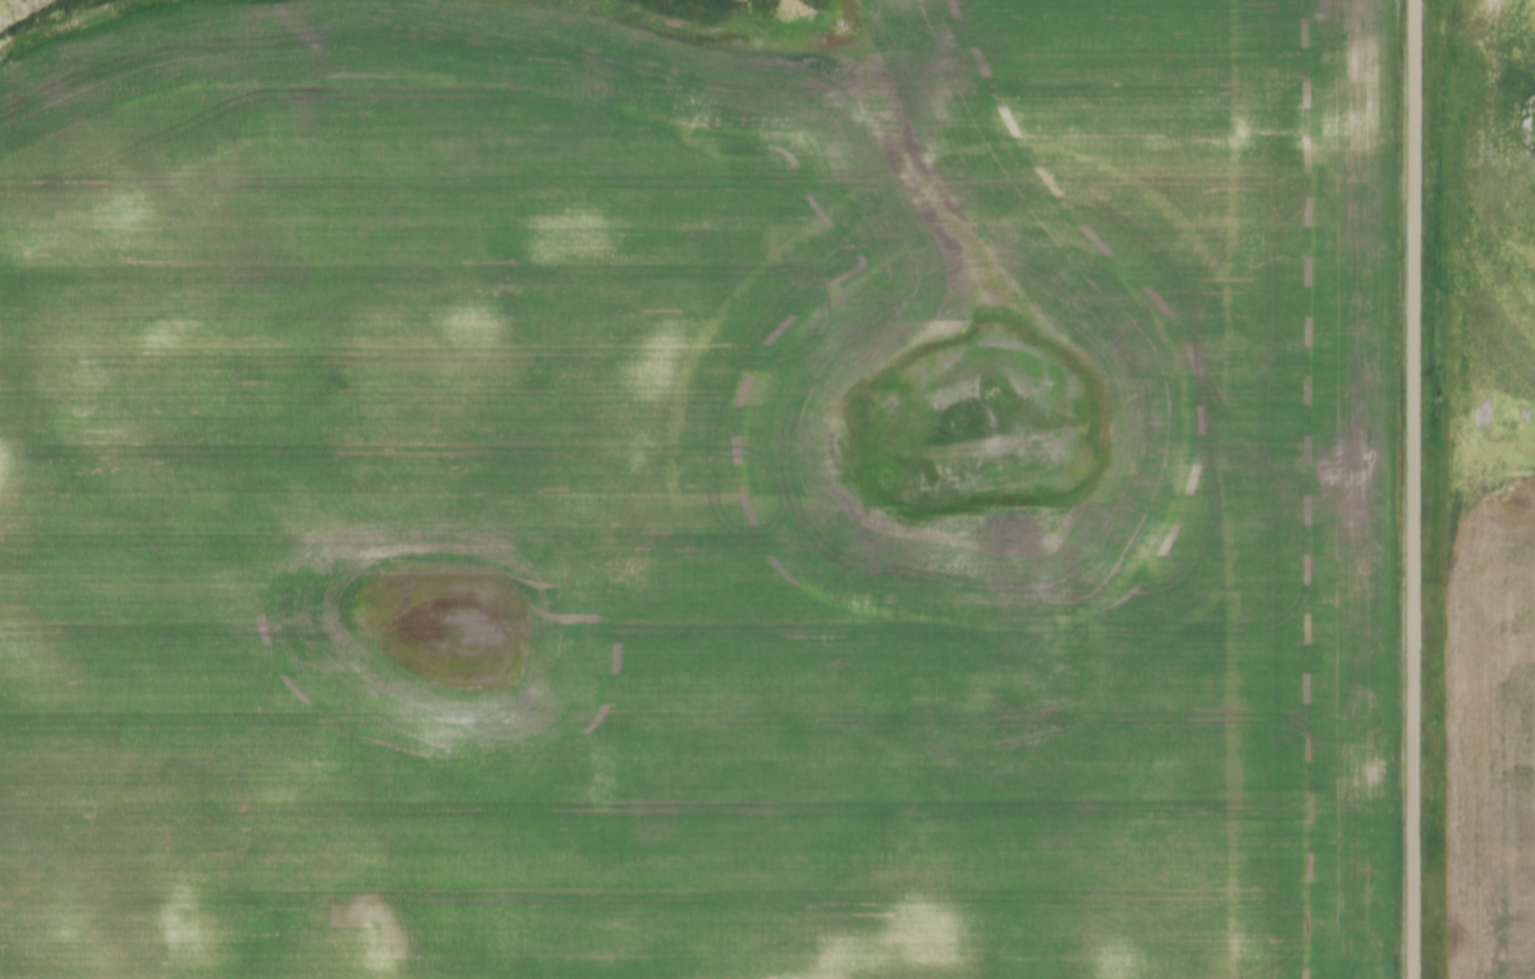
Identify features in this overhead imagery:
road: (1415, 489)

